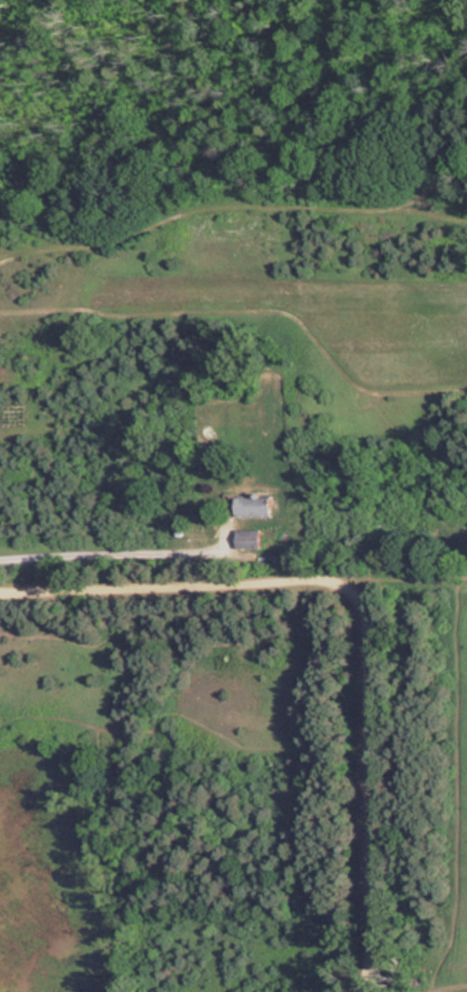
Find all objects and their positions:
building: (255, 506)
building: (250, 538)
road: (360, 611)
road: (358, 989)

